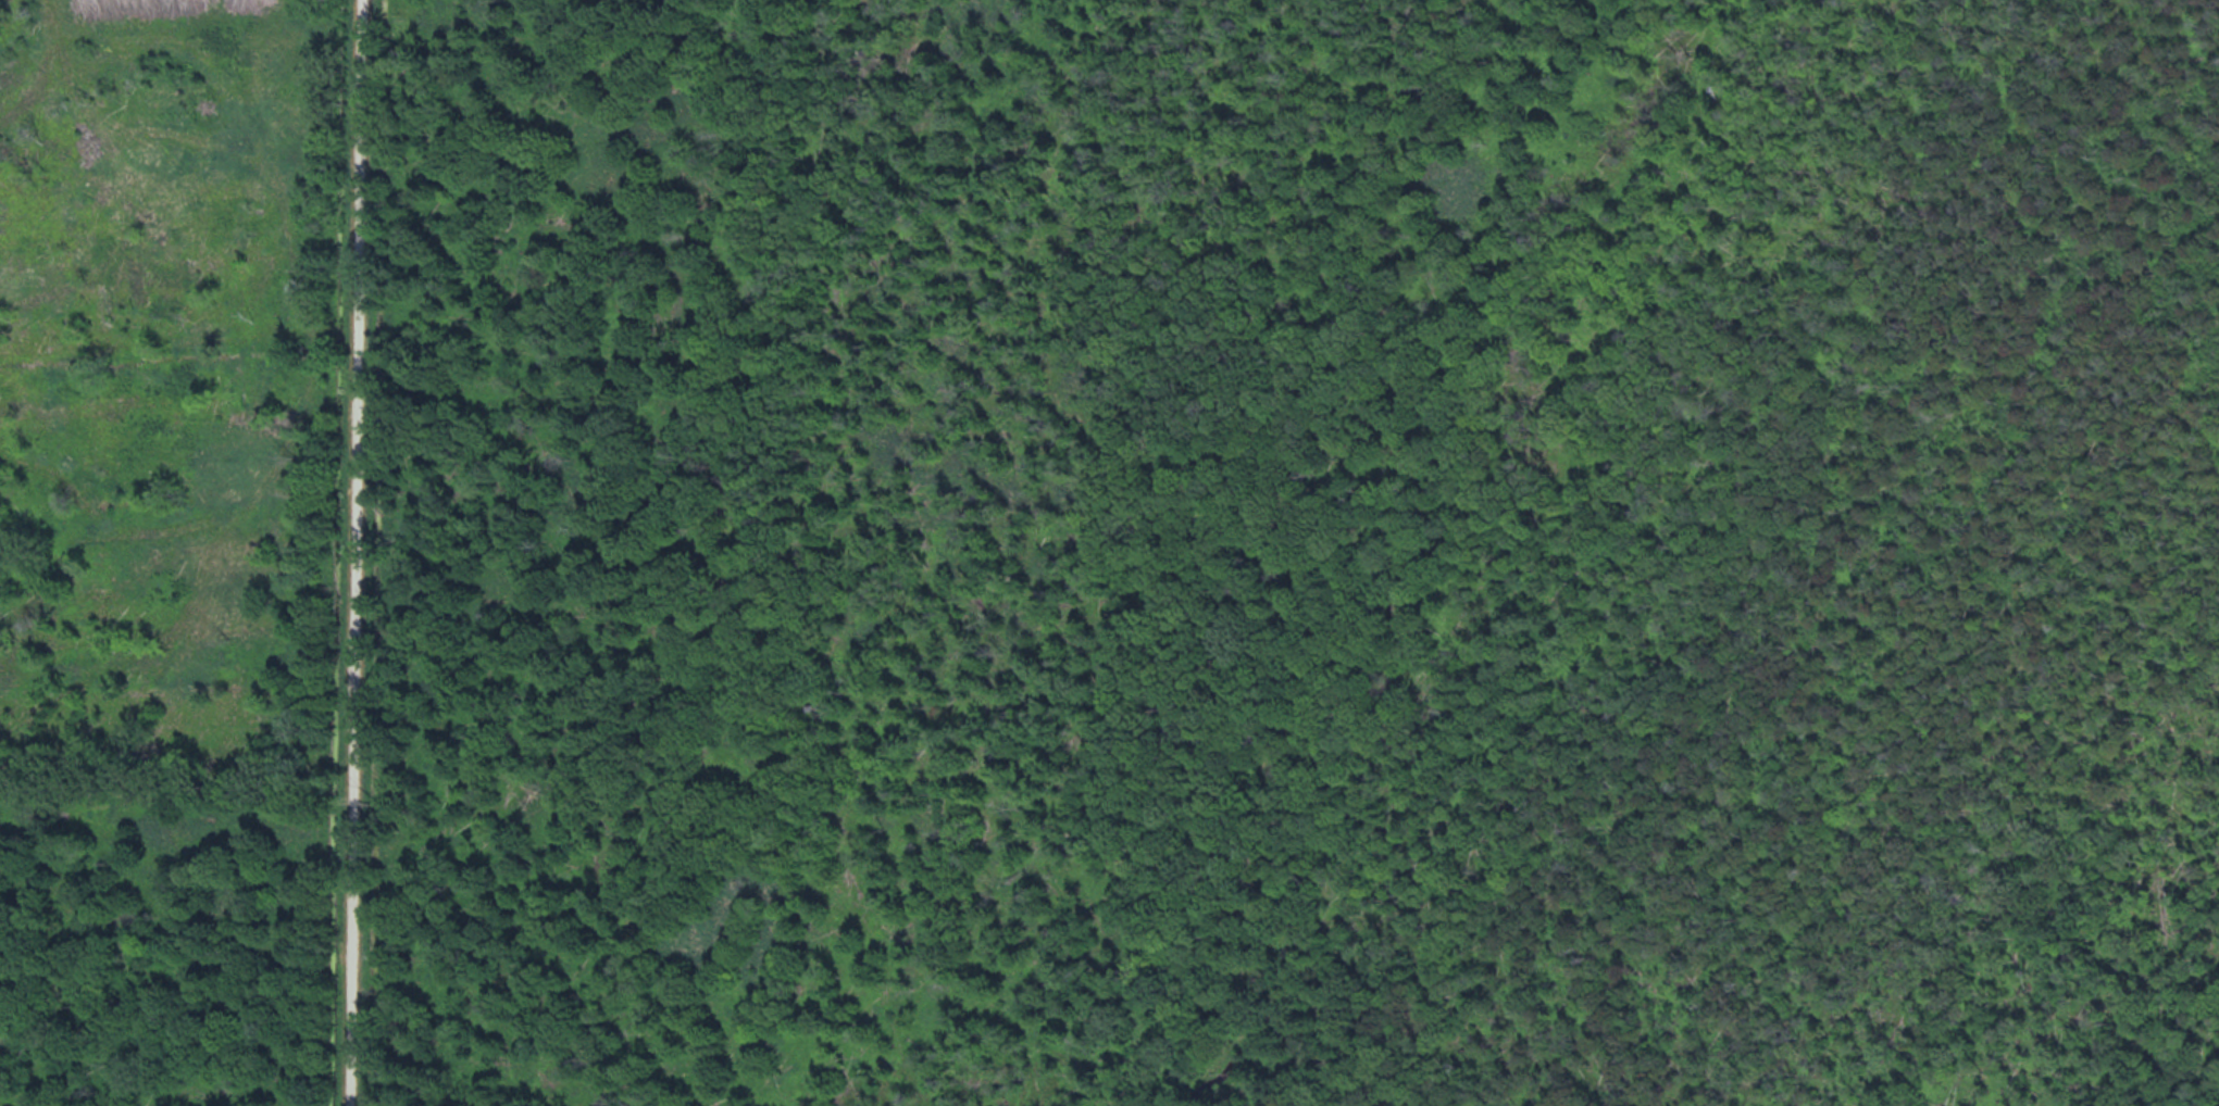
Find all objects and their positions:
road: (354, 553)

